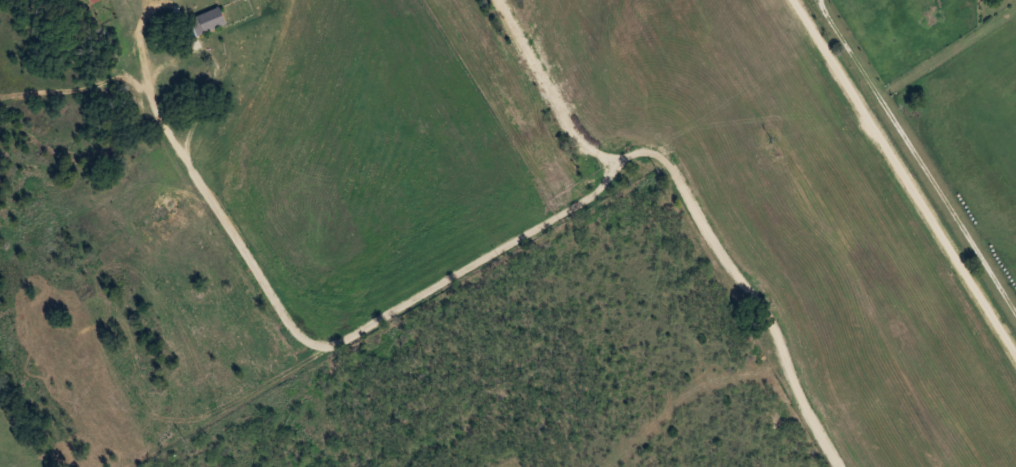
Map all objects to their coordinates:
building: (92, 1)
building: (209, 20)
road: (617, 396)

